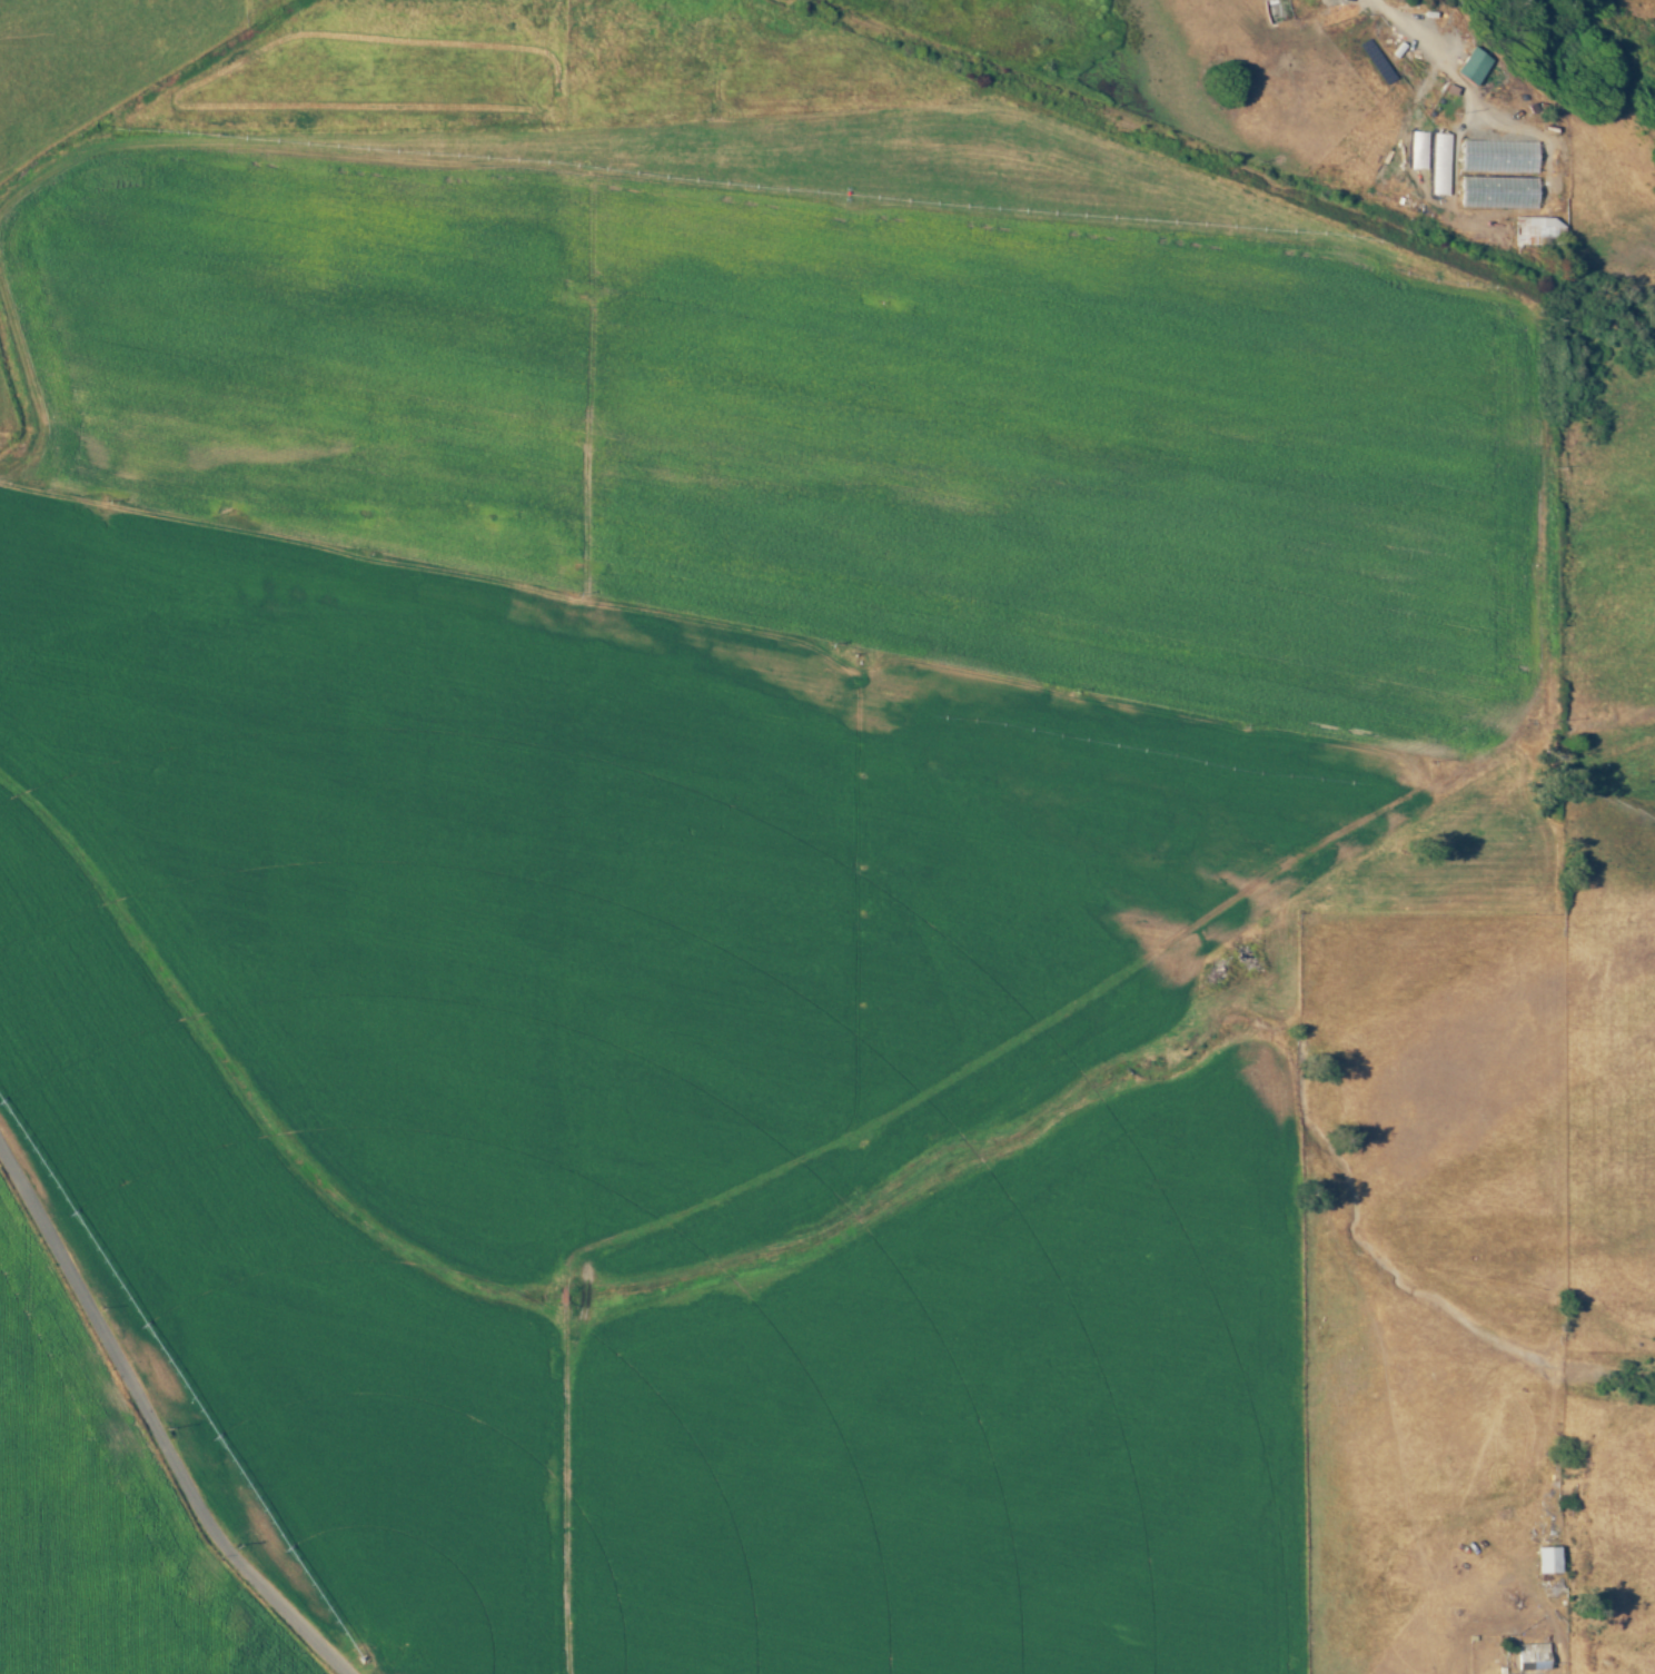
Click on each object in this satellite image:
building: (1474, 65)
building: (1439, 171)
building: (1535, 229)
road: (6, 439)
road: (1005, 1038)
road: (153, 1423)
building: (1547, 1558)

